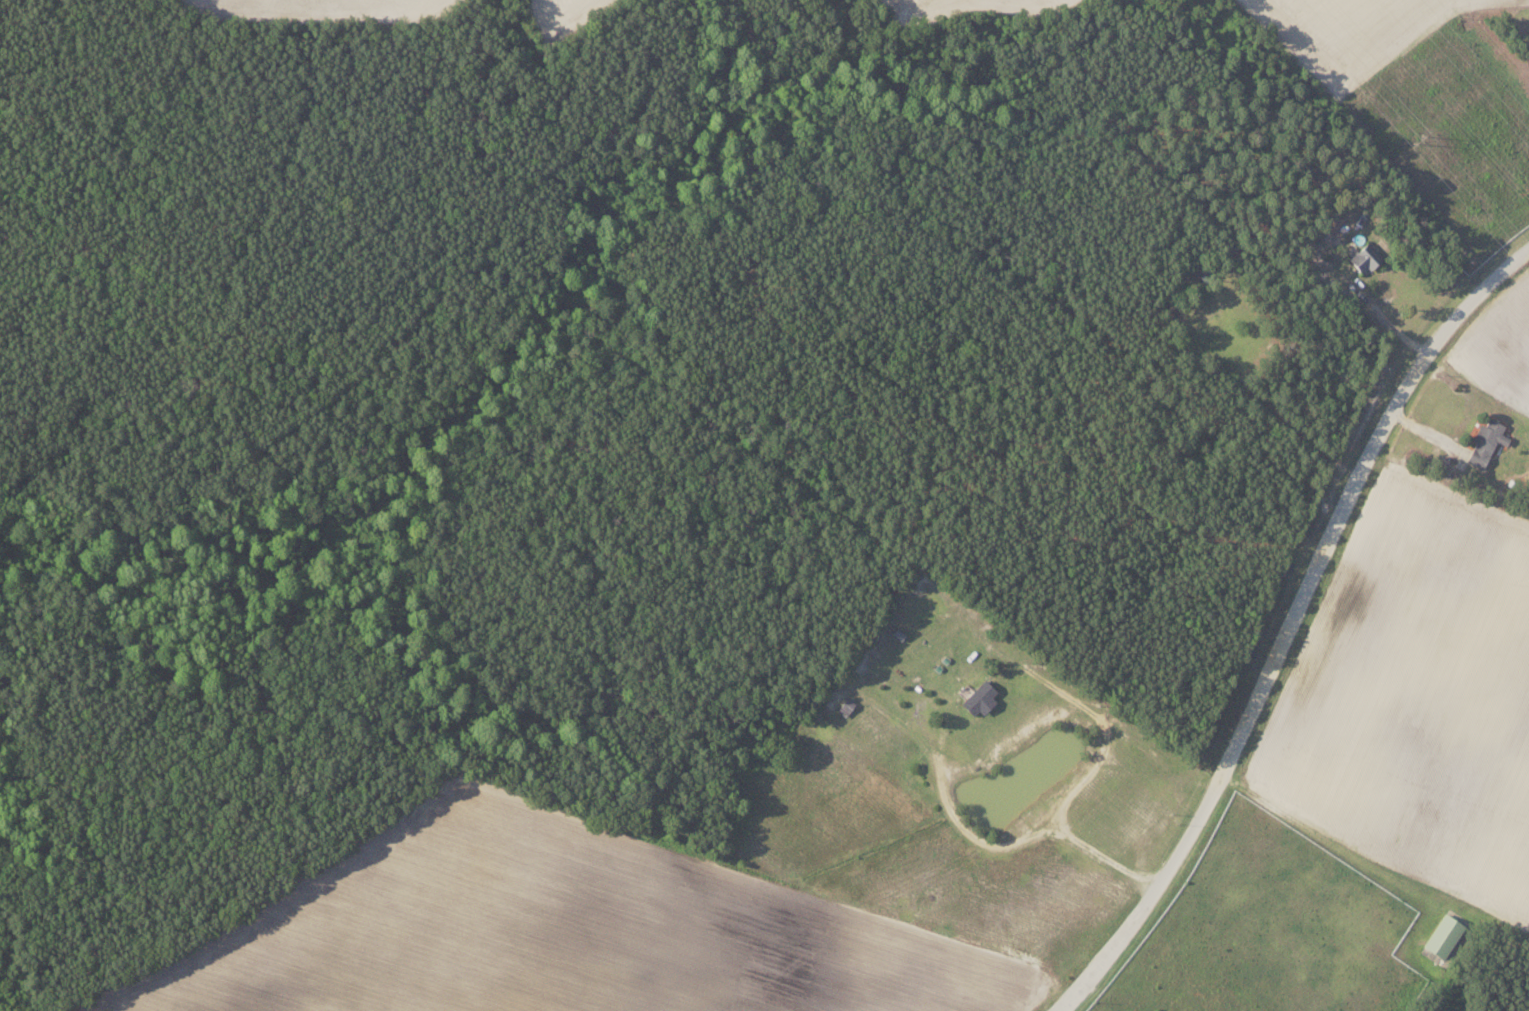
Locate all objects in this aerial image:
power tower: (1418, 138)
power tower: (1524, 190)
building: (1363, 257)
building: (1485, 441)
road: (1290, 624)
building: (977, 696)
building: (1444, 936)

